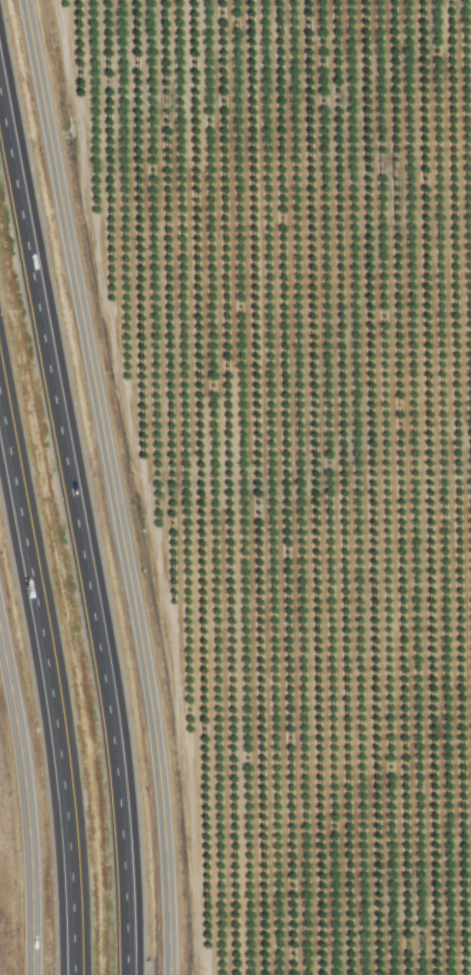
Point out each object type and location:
road: (109, 485)
road: (77, 538)
road: (49, 691)
road: (24, 816)

